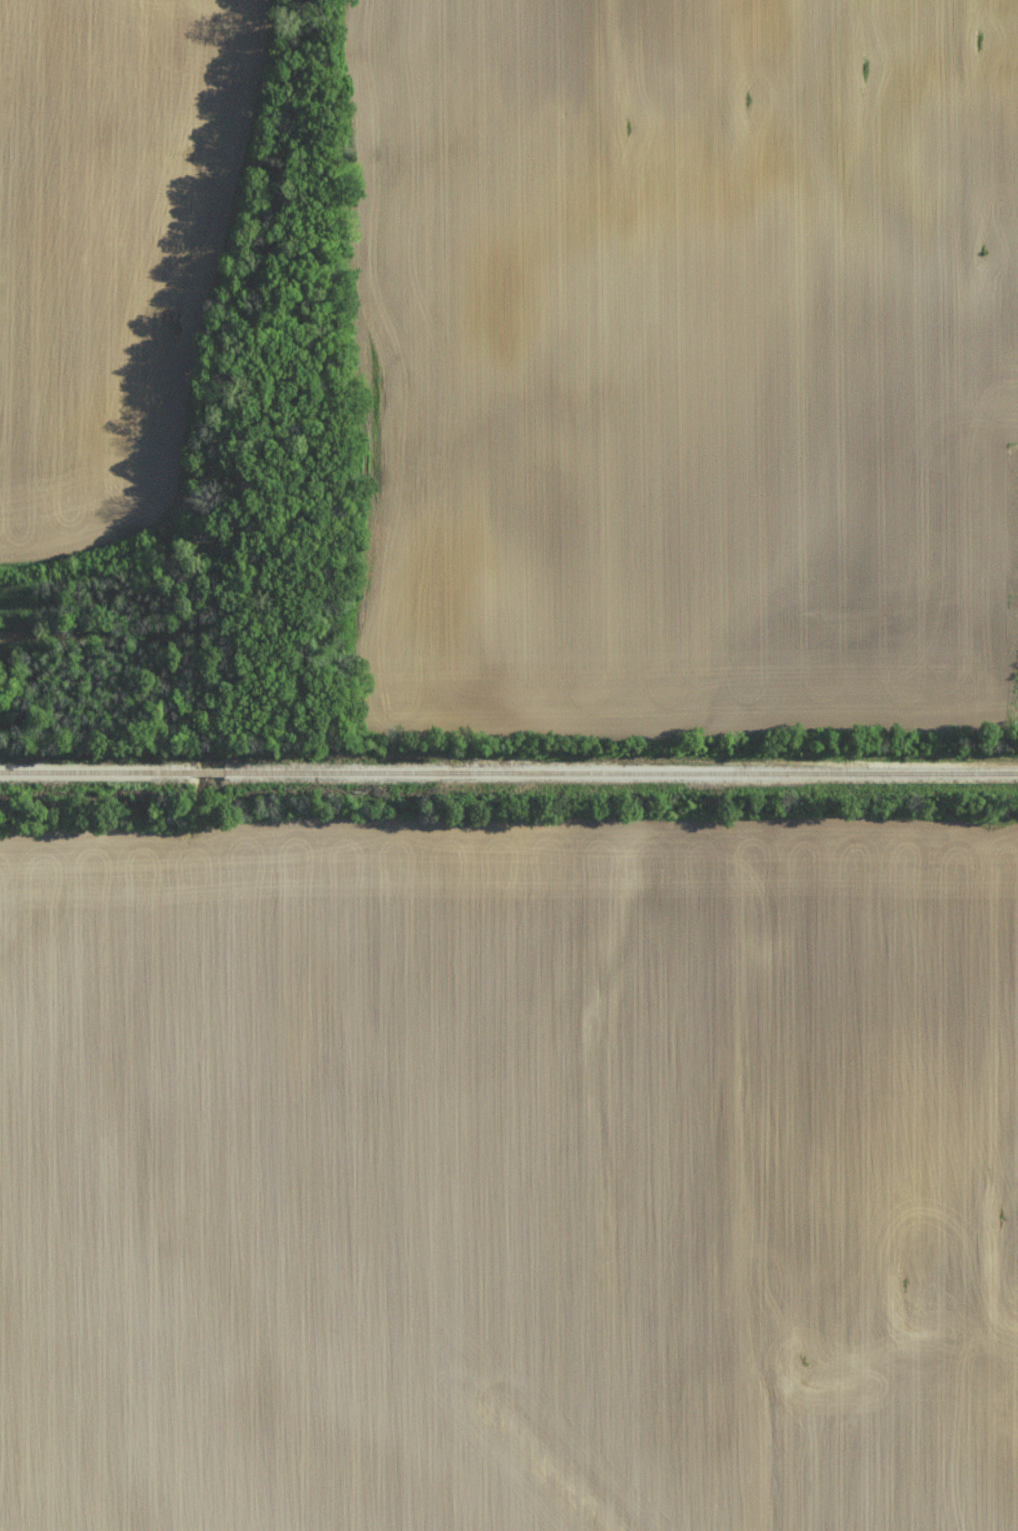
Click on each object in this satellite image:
railway: (96, 772)
railway: (201, 773)
railway: (614, 773)

